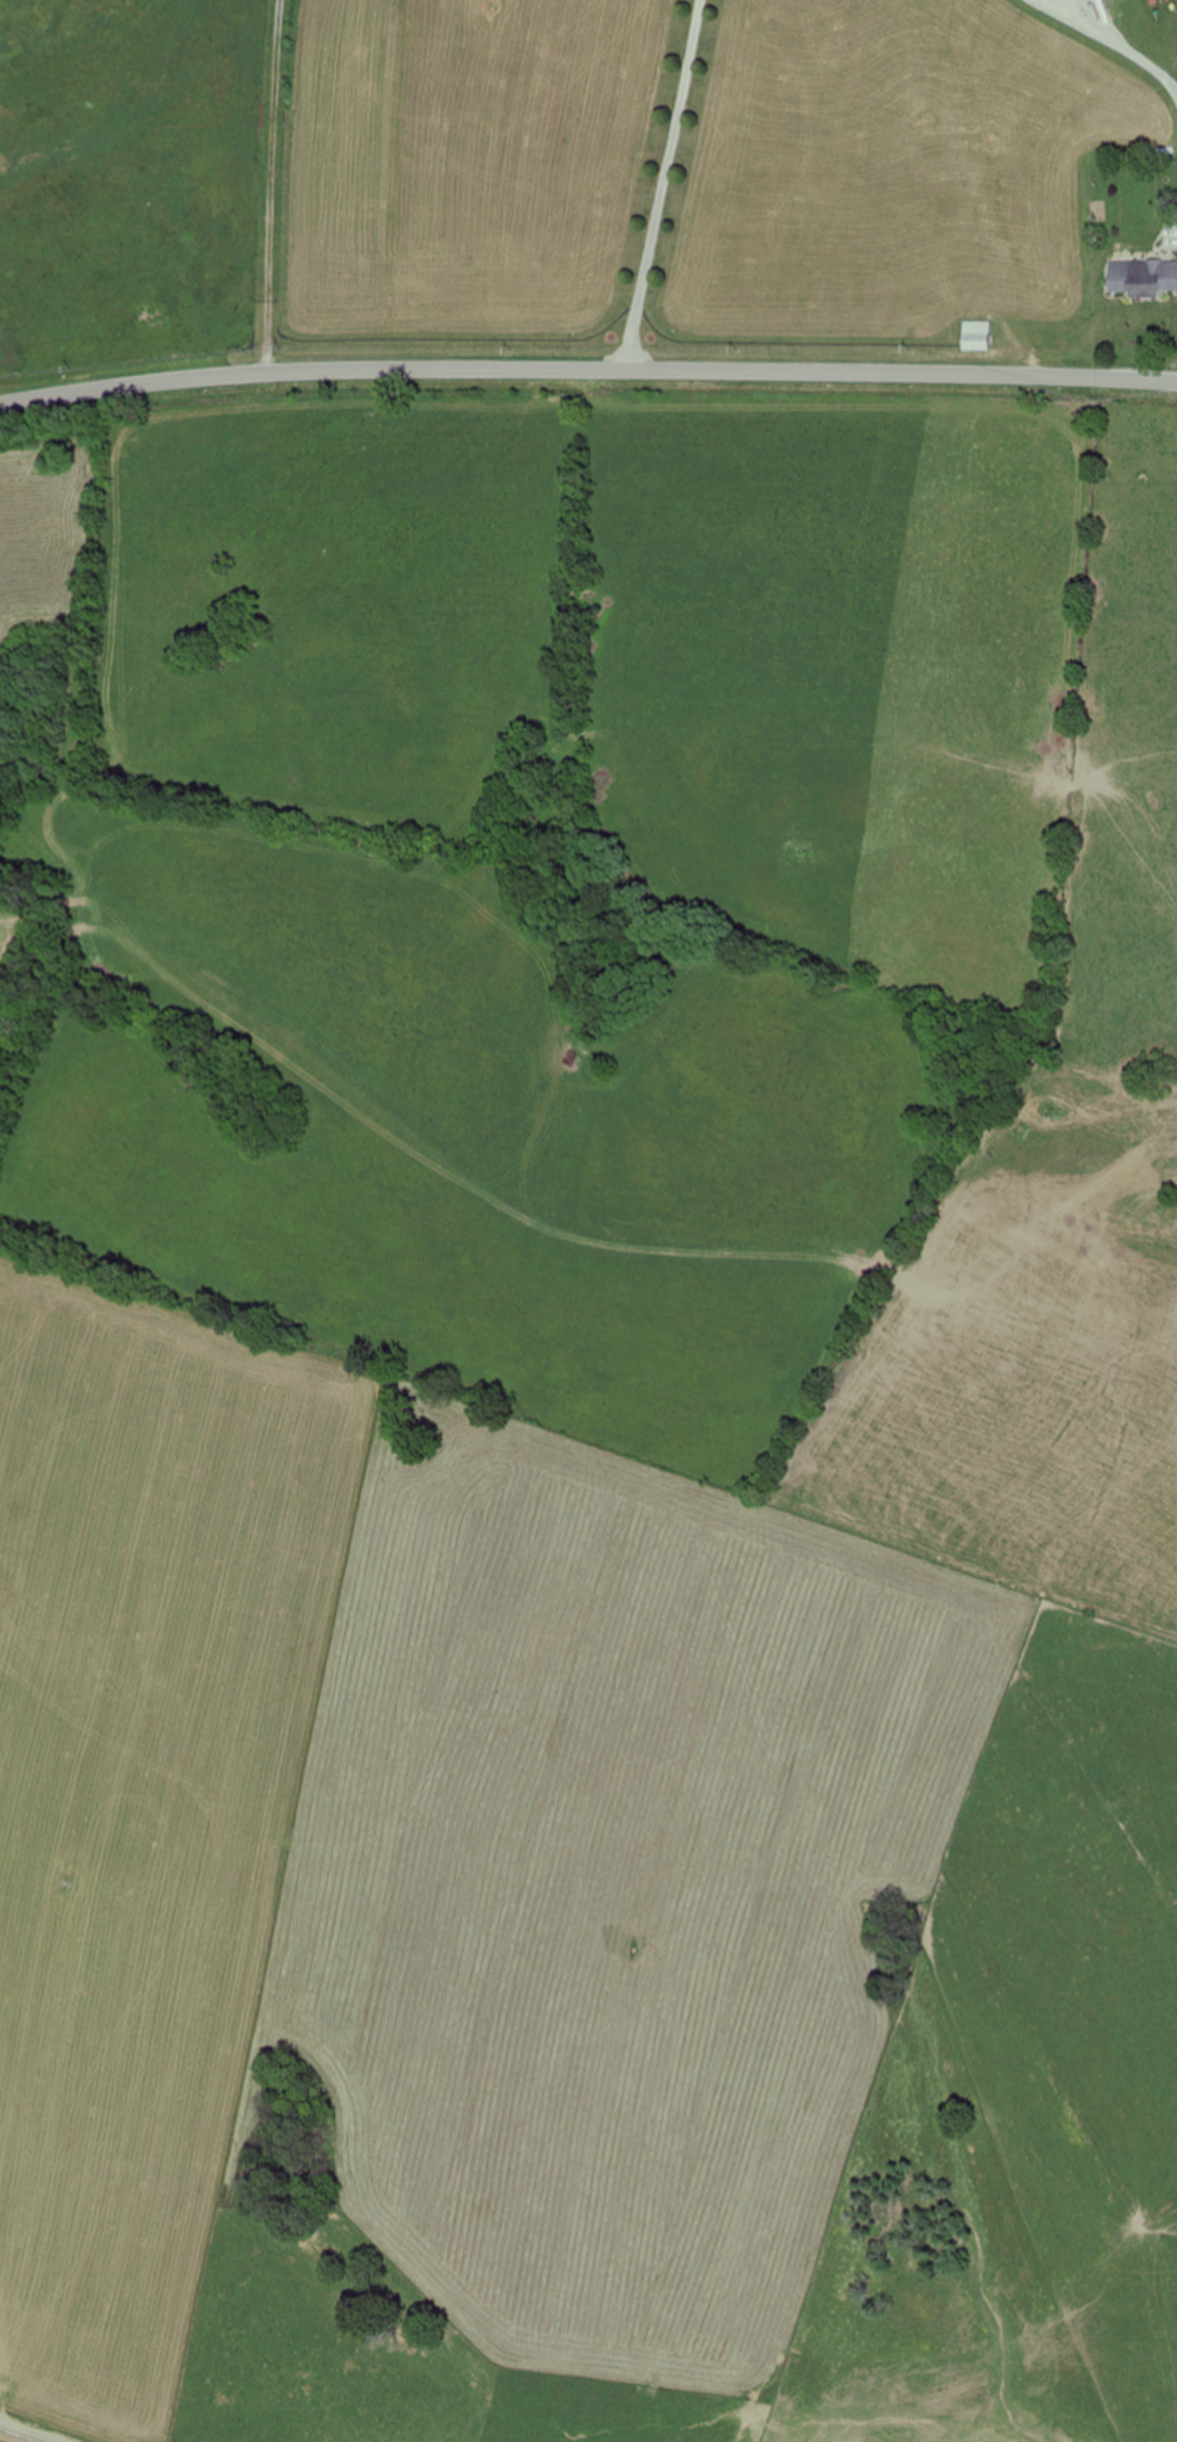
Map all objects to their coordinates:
road: (1112, 39)
road: (661, 184)
building: (1141, 276)
building: (975, 335)
road: (587, 370)

